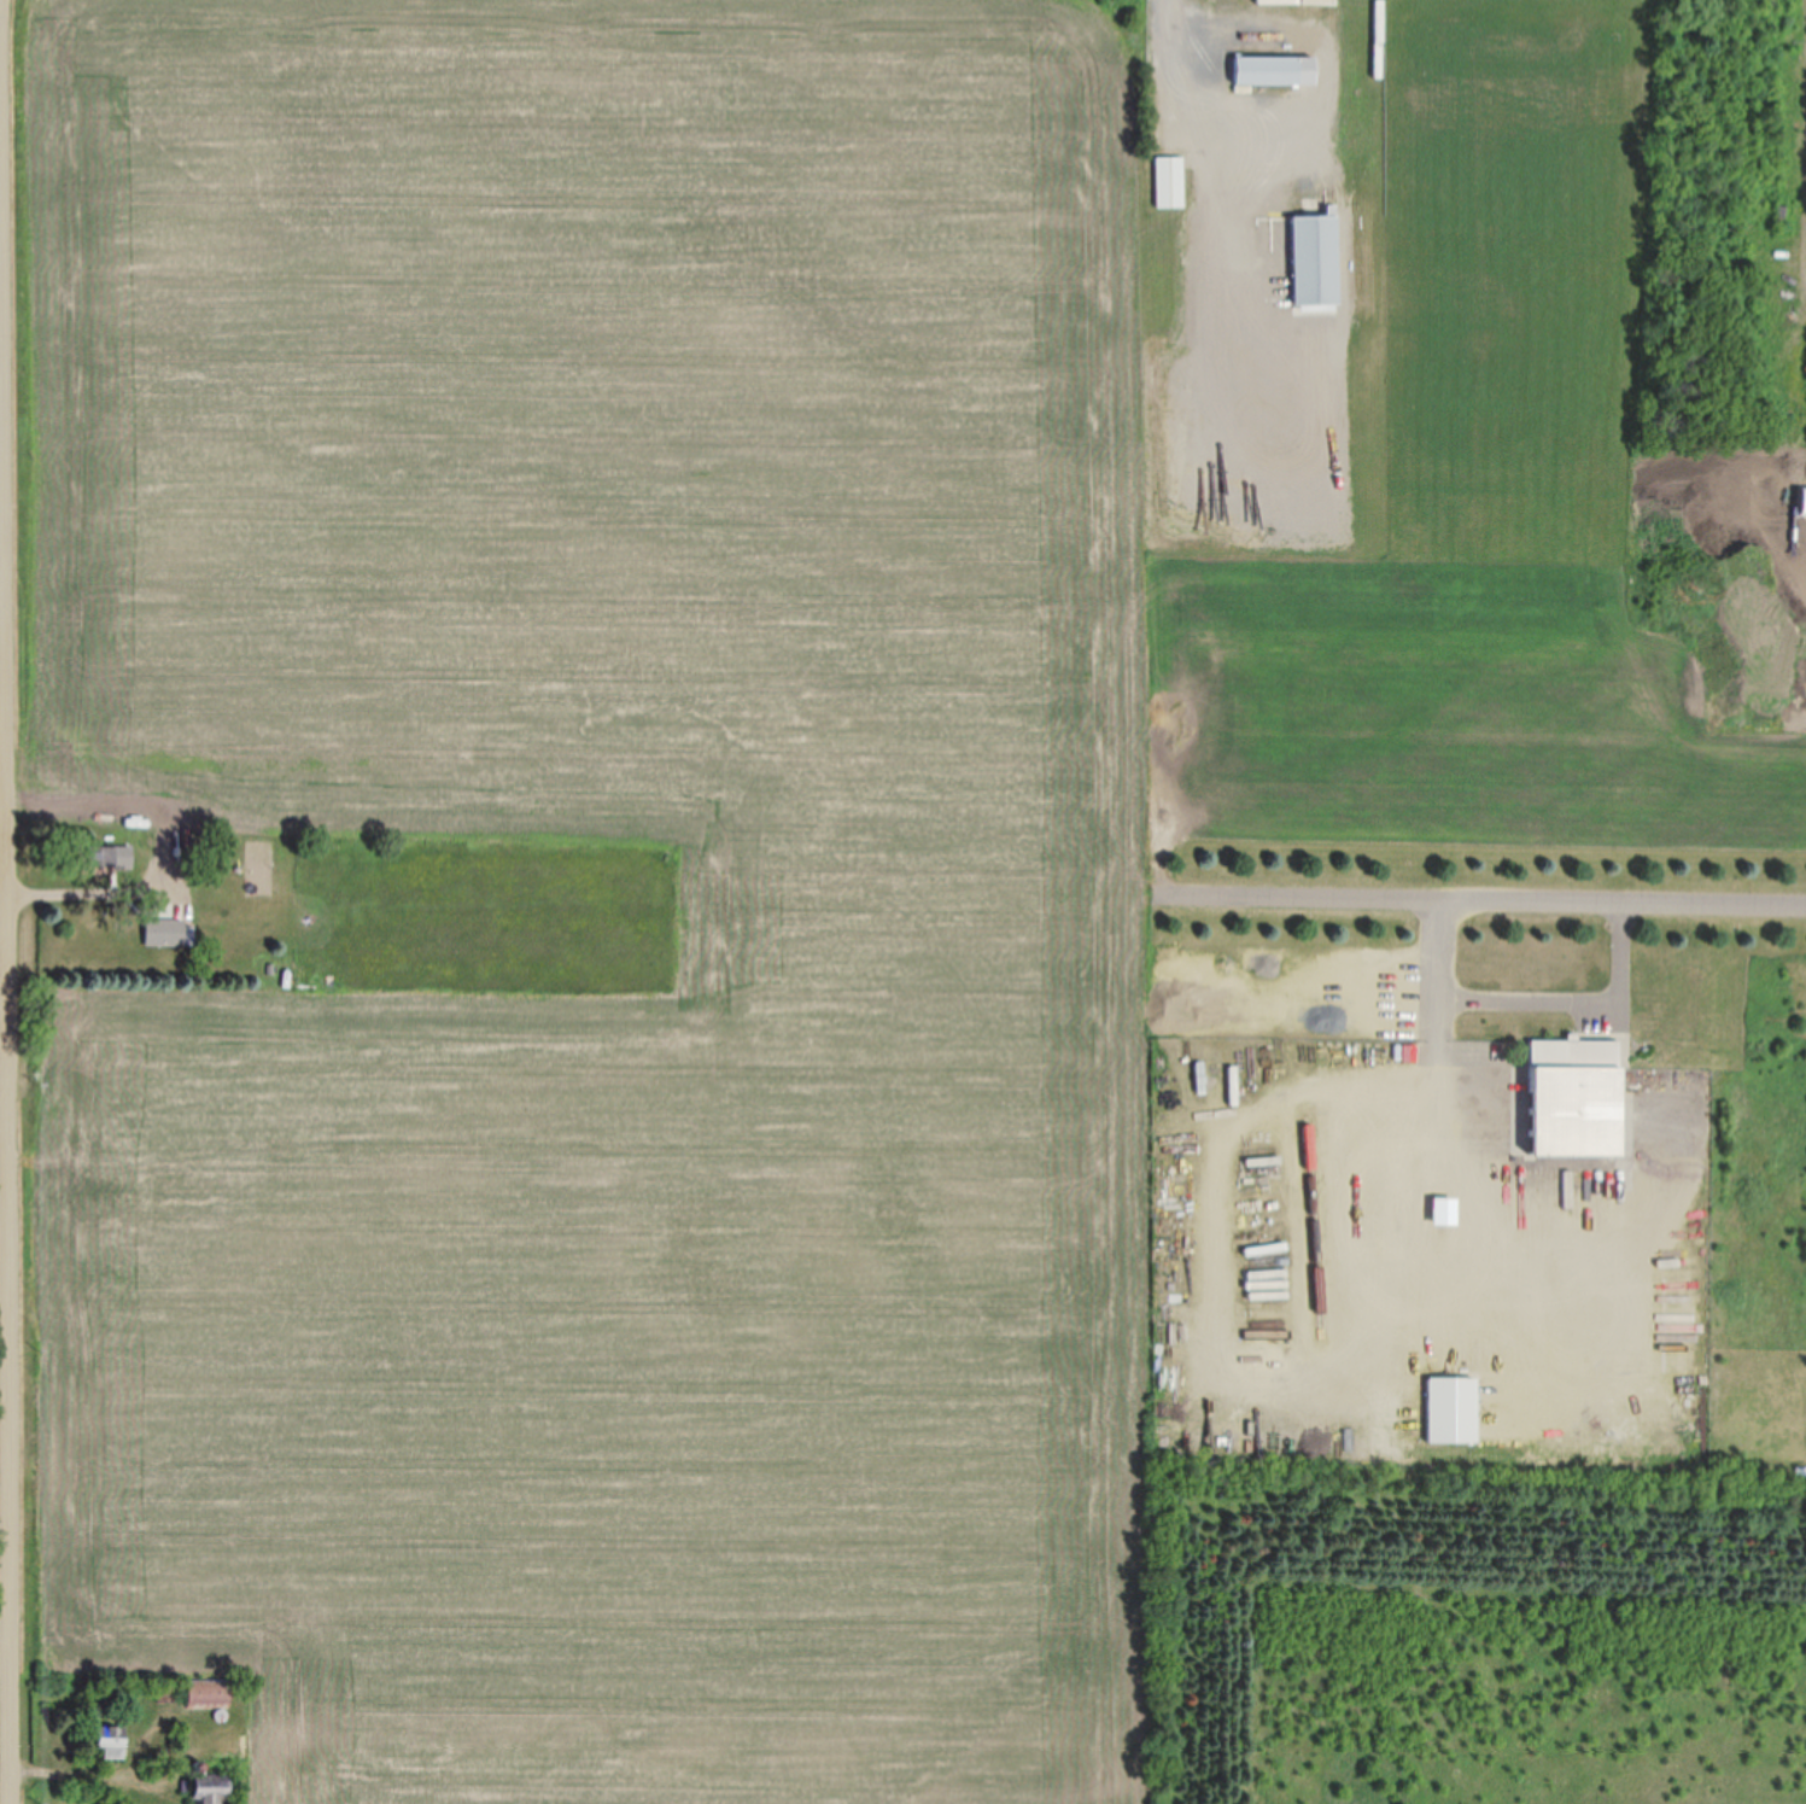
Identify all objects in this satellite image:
building: (1264, 68)
building: (1168, 180)
building: (1311, 258)
building: (109, 856)
road: (1484, 898)
road: (8, 901)
crop: (913, 901)
building: (163, 932)
building: (1572, 1097)
road: (5, 1105)
building: (1450, 1409)
building: (205, 1693)
building: (110, 1741)
building: (205, 1791)

